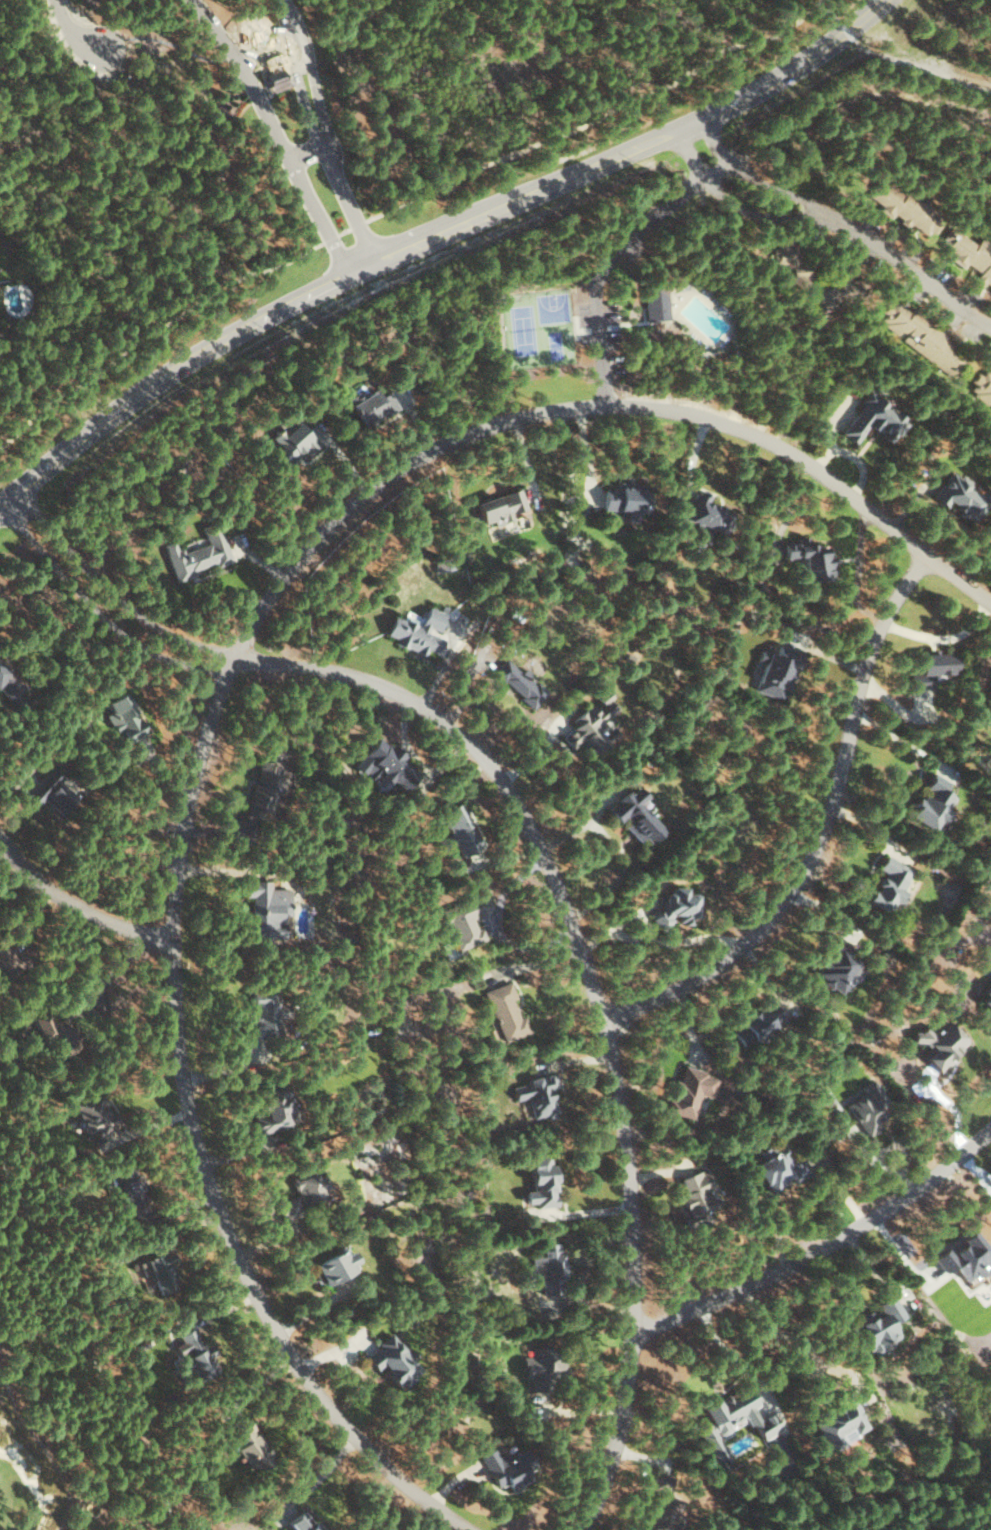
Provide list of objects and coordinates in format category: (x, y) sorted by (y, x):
road: (81, 27)
road: (275, 49)
road: (896, 59)
building: (276, 79)
road: (595, 119)
road: (330, 133)
road: (284, 134)
road: (315, 153)
road: (763, 183)
building: (905, 207)
road: (832, 221)
road: (434, 238)
building: (970, 253)
road: (615, 256)
building: (789, 258)
building: (656, 303)
road: (173, 323)
park: (540, 329)
building: (922, 337)
building: (983, 386)
building: (372, 405)
building: (876, 419)
road: (817, 469)
road: (388, 485)
building: (963, 496)
building: (628, 499)
building: (501, 506)
building: (708, 515)
building: (198, 553)
building: (811, 557)
building: (444, 564)
road: (103, 614)
building: (418, 632)
building: (934, 667)
building: (778, 672)
building: (521, 682)
building: (9, 684)
building: (125, 717)
building: (593, 726)
building: (387, 764)
building: (264, 791)
building: (52, 793)
building: (932, 803)
building: (636, 816)
road: (823, 828)
building: (458, 831)
road: (546, 867)
building: (891, 884)
building: (678, 908)
building: (266, 910)
road: (77, 914)
building: (467, 920)
building: (6, 958)
building: (837, 965)
building: (987, 998)
building: (506, 1011)
building: (758, 1024)
building: (55, 1033)
building: (943, 1044)
building: (691, 1092)
building: (539, 1095)
building: (871, 1106)
building: (275, 1109)
building: (94, 1115)
road: (197, 1138)
building: (779, 1165)
building: (542, 1180)
building: (131, 1191)
building: (302, 1192)
building: (698, 1193)
road: (820, 1245)
building: (967, 1256)
building: (550, 1267)
building: (160, 1270)
building: (881, 1324)
road: (87, 1343)
building: (197, 1351)
building: (393, 1359)
building: (542, 1366)
park: (48, 1416)
building: (734, 1418)
building: (841, 1422)
building: (250, 1443)
road: (44, 1444)
building: (507, 1468)
park: (910, 1468)
building: (663, 1507)
building: (304, 1521)

